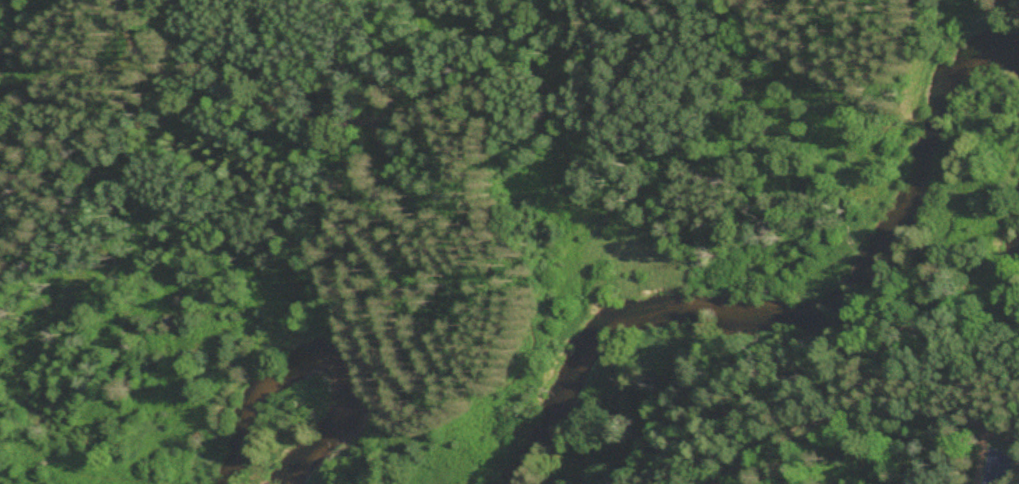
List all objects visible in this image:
river: (813, 313)
river: (310, 363)
road: (850, 408)

